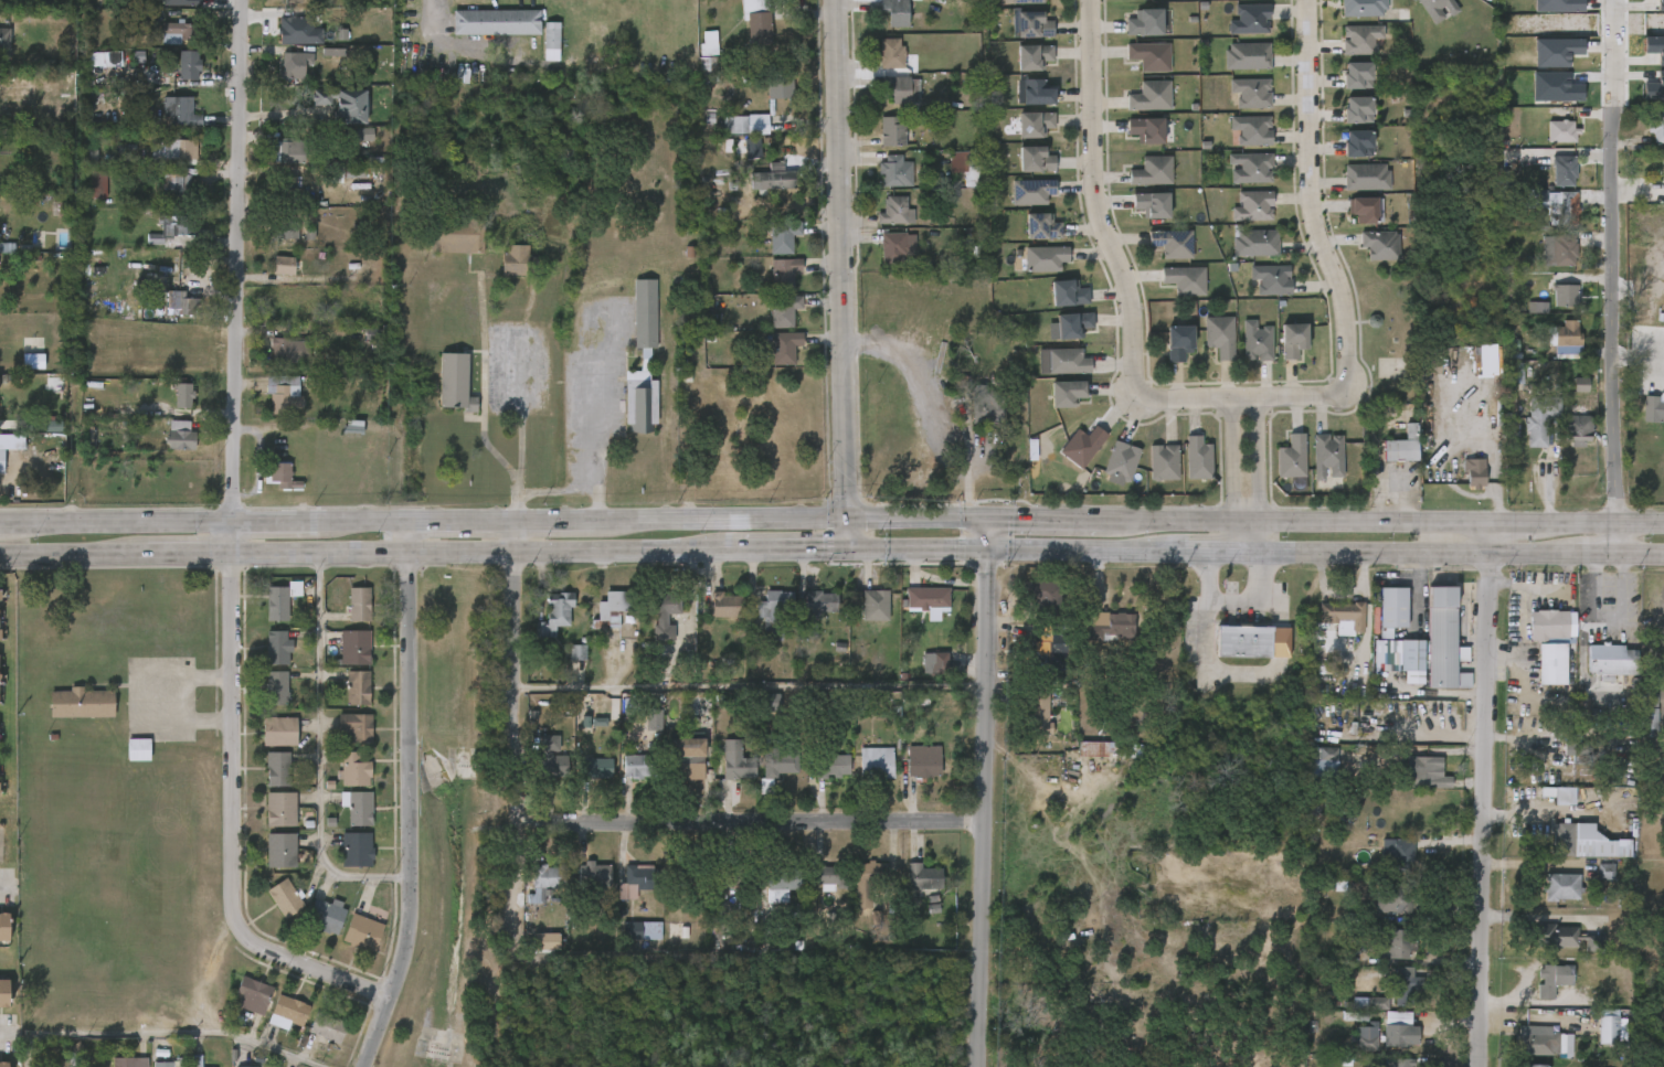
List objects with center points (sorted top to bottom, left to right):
building: (293, 1)
building: (1025, 1)
building: (182, 2)
building: (1558, 6)
building: (1660, 6)
building: (1361, 8)
building: (1435, 9)
building: (893, 11)
road: (433, 13)
building: (1248, 19)
building: (755, 21)
building: (494, 22)
building: (1143, 23)
building: (1032, 25)
building: (180, 29)
building: (298, 32)
building: (1358, 39)
building: (551, 41)
building: (4, 42)
building: (708, 43)
building: (1655, 47)
building: (1556, 52)
building: (889, 54)
building: (1147, 56)
building: (1246, 56)
building: (1031, 57)
building: (104, 60)
building: (294, 64)
building: (188, 65)
building: (708, 70)
building: (1356, 75)
building: (0, 78)
building: (778, 85)
building: (1555, 87)
building: (895, 88)
building: (1654, 88)
building: (1032, 93)
building: (1249, 94)
building: (1148, 98)
building: (343, 103)
building: (179, 110)
building: (1356, 110)
building: (744, 125)
building: (1034, 125)
building: (1655, 126)
building: (1145, 130)
building: (1250, 130)
building: (1558, 131)
building: (893, 132)
building: (358, 134)
building: (1356, 143)
building: (171, 145)
building: (289, 150)
building: (1035, 159)
building: (965, 167)
building: (1249, 169)
building: (1562, 169)
building: (1151, 171)
building: (897, 172)
building: (333, 174)
building: (777, 174)
building: (1365, 177)
building: (97, 183)
building: (178, 184)
building: (286, 189)
building: (1030, 191)
road: (1308, 194)
road: (1092, 202)
building: (1148, 204)
building: (1251, 206)
building: (1363, 209)
building: (1560, 209)
building: (895, 212)
building: (1040, 226)
building: (171, 227)
building: (282, 227)
building: (457, 236)
building: (784, 236)
building: (1170, 243)
building: (1253, 243)
building: (1377, 244)
building: (898, 247)
building: (1557, 250)
building: (1043, 258)
building: (518, 260)
building: (284, 265)
building: (785, 273)
road: (839, 274)
road: (239, 276)
road: (1617, 277)
building: (1270, 279)
building: (1184, 280)
building: (1064, 294)
building: (1564, 296)
building: (184, 302)
building: (1537, 308)
building: (290, 309)
building: (785, 310)
building: (1663, 320)
building: (2, 321)
building: (1071, 324)
building: (1568, 332)
building: (1219, 337)
building: (1292, 340)
building: (1178, 341)
building: (1255, 341)
building: (785, 346)
building: (290, 349)
building: (646, 353)
building: (32, 361)
building: (1066, 361)
building: (1514, 373)
building: (453, 383)
building: (1579, 384)
building: (1066, 393)
building: (182, 396)
building: (286, 401)
road: (1241, 402)
building: (1649, 404)
building: (990, 407)
road: (597, 415)
building: (1538, 418)
road: (920, 425)
road: (518, 427)
building: (1577, 428)
building: (181, 435)
building: (9, 446)
building: (1081, 446)
building: (1400, 447)
building: (1326, 456)
building: (1291, 457)
building: (1196, 458)
building: (1163, 461)
building: (1120, 463)
building: (1475, 465)
building: (282, 476)
road: (1232, 478)
road: (1255, 478)
road: (558, 491)
traffic signals: (986, 516)
road: (1047, 516)
road: (1296, 516)
road: (278, 518)
road: (363, 518)
road: (502, 518)
road: (792, 518)
traffic signals: (846, 518)
road: (120, 519)
road: (1508, 519)
road: (1598, 520)
road: (0, 521)
road: (985, 533)
road: (788, 548)
traffic signals: (847, 548)
road: (915, 549)
traffic signals: (985, 551)
road: (1081, 551)
road: (485, 552)
road: (1210, 553)
road: (1409, 553)
road: (1644, 553)
road: (73, 554)
road: (192, 554)
road: (1598, 554)
road: (1620, 576)
road: (1597, 578)
building: (0, 590)
building: (1045, 597)
building: (929, 598)
building: (280, 600)
road: (1254, 600)
building: (359, 604)
building: (723, 604)
building: (876, 605)
building: (1391, 608)
building: (816, 609)
building: (608, 610)
building: (553, 611)
building: (774, 612)
road: (1609, 612)
building: (661, 613)
building: (1342, 615)
building: (1547, 623)
building: (1110, 625)
building: (1442, 639)
building: (1252, 641)
road: (1204, 645)
building: (354, 647)
building: (277, 648)
building: (576, 652)
building: (1410, 654)
building: (1045, 655)
building: (1611, 659)
building: (936, 663)
building: (1550, 663)
building: (358, 687)
road: (751, 687)
building: (276, 689)
road: (181, 698)
building: (84, 702)
building: (771, 703)
building: (1040, 712)
building: (1647, 715)
building: (608, 718)
building: (653, 721)
building: (357, 726)
building: (279, 732)
building: (138, 749)
building: (1098, 749)
road: (319, 751)
building: (1578, 751)
building: (780, 757)
building: (550, 758)
building: (689, 758)
building: (734, 761)
building: (924, 761)
building: (1323, 762)
building: (877, 764)
road: (519, 766)
building: (639, 766)
building: (831, 766)
building: (594, 768)
building: (1419, 768)
building: (277, 770)
building: (354, 770)
road: (1485, 792)
road: (409, 796)
building: (1564, 797)
building: (358, 807)
building: (280, 809)
road: (982, 809)
road: (240, 822)
road: (749, 823)
building: (1567, 836)
building: (357, 850)
building: (280, 851)
building: (1604, 872)
building: (594, 874)
building: (1393, 874)
building: (690, 875)
building: (734, 876)
building: (835, 876)
building: (783, 878)
building: (925, 878)
building: (538, 882)
building: (639, 882)
building: (869, 882)
road: (4, 887)
building: (1559, 887)
building: (285, 898)
building: (327, 917)
building: (4, 927)
building: (643, 931)
building: (362, 933)
building: (1556, 935)
building: (540, 941)
building: (1396, 943)
building: (1552, 980)
building: (1401, 986)
building: (4, 993)
building: (253, 996)
building: (1377, 1004)
building: (287, 1014)
building: (1396, 1016)
building: (328, 1028)
building: (1607, 1028)
road: (168, 1032)
road: (3, 1033)
building: (1397, 1035)
building: (1365, 1038)
building: (1537, 1039)
building: (197, 1060)
building: (139, 1061)
building: (1397, 1063)
building: (3, 1064)
building: (162, 1064)
building: (173, 1064)
building: (183, 1065)
building: (1534, 1065)

